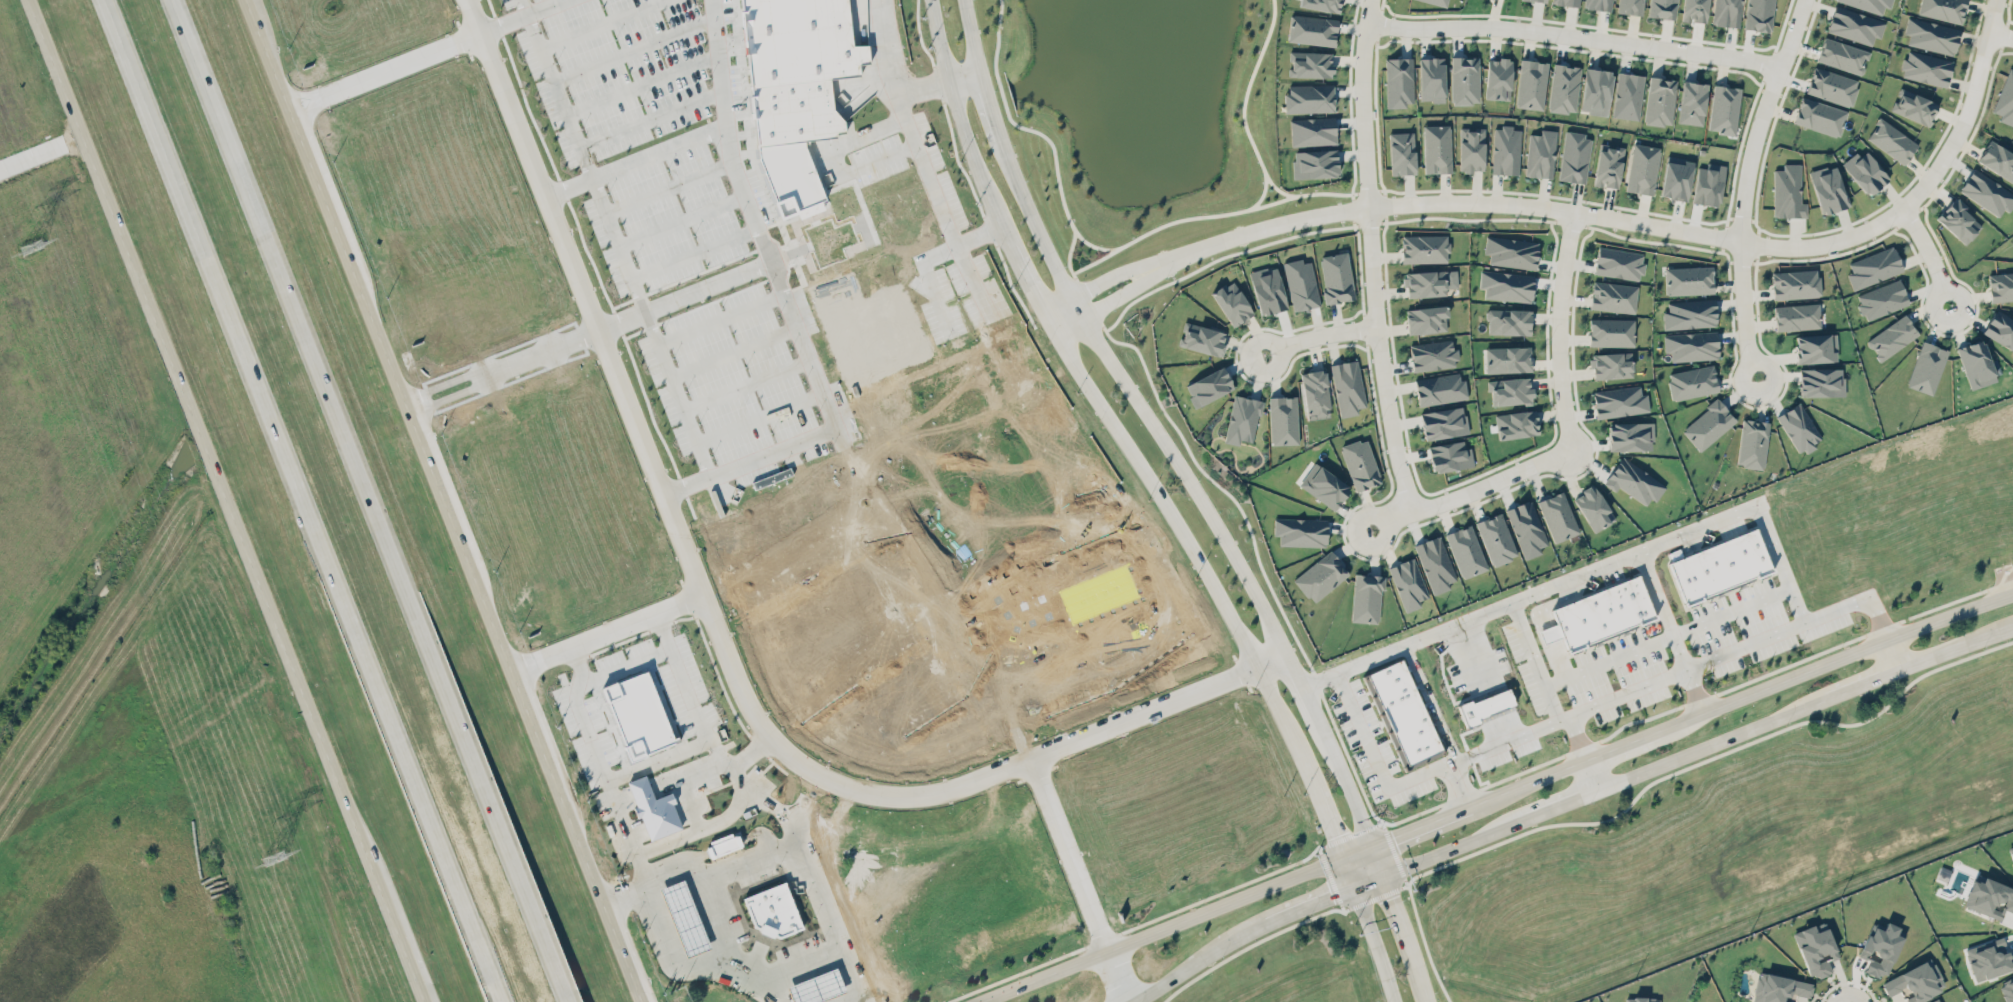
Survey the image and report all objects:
building: (1540, 0)
building: (1438, 2)
building: (1567, 2)
building: (1322, 4)
building: (1598, 4)
building: (1869, 4)
road: (545, 6)
building: (1630, 6)
building: (1662, 8)
building: (1943, 9)
building: (1695, 10)
building: (1727, 12)
building: (1759, 15)
road: (511, 20)
road: (602, 24)
building: (1855, 25)
building: (1312, 29)
road: (2000, 33)
road: (1572, 34)
building: (1931, 35)
road: (634, 49)
building: (1842, 55)
building: (1310, 64)
building: (797, 66)
building: (1926, 68)
road: (386, 75)
road: (962, 78)
building: (1499, 78)
building: (1431, 79)
building: (1465, 80)
building: (1399, 81)
building: (1532, 84)
road: (642, 86)
building: (1832, 86)
building: (1564, 88)
road: (922, 90)
building: (1596, 91)
building: (1628, 95)
building: (1309, 98)
building: (1660, 100)
building: (2006, 100)
building: (1692, 103)
building: (1914, 106)
building: (1724, 109)
building: (1820, 116)
road: (649, 119)
building: (1312, 131)
building: (1892, 140)
road: (916, 148)
building: (1437, 148)
building: (1471, 149)
road: (1003, 150)
building: (1506, 150)
road: (656, 152)
building: (1401, 153)
building: (1541, 154)
road: (41, 155)
road: (976, 156)
building: (1575, 157)
building: (1997, 160)
building: (1314, 163)
building: (1608, 166)
building: (1642, 168)
building: (1865, 172)
building: (1676, 178)
building: (1708, 184)
road: (569, 187)
road: (669, 187)
road: (1744, 187)
building: (1828, 188)
building: (1788, 192)
building: (1987, 192)
road: (682, 220)
building: (1958, 220)
road: (1639, 222)
road: (768, 244)
power tower: (30, 247)
building: (1424, 248)
building: (1511, 251)
road: (1929, 253)
road: (1370, 257)
road: (671, 263)
building: (1618, 263)
building: (1873, 267)
road: (759, 268)
building: (1336, 277)
building: (1688, 280)
road: (1092, 281)
building: (1425, 283)
building: (1795, 283)
building: (1301, 284)
building: (1506, 285)
building: (2000, 286)
building: (1268, 290)
building: (1613, 297)
building: (1882, 299)
building: (1232, 302)
road: (1104, 305)
building: (1690, 313)
building: (1796, 316)
building: (1426, 319)
road: (721, 320)
road: (1048, 320)
building: (1508, 321)
road: (1559, 327)
building: (2000, 328)
building: (1611, 332)
road: (1318, 334)
building: (1892, 337)
building: (1202, 338)
building: (1691, 345)
building: (1816, 348)
road: (733, 350)
building: (1433, 355)
building: (1507, 359)
building: (1976, 364)
building: (1611, 365)
building: (1926, 367)
building: (1692, 382)
building: (1821, 382)
road: (746, 384)
building: (1209, 386)
building: (1347, 387)
building: (1440, 388)
building: (1510, 391)
building: (1315, 392)
road: (676, 394)
building: (1619, 401)
road: (759, 418)
building: (1243, 420)
building: (1283, 420)
building: (1444, 422)
building: (1516, 424)
building: (1708, 424)
building: (1799, 428)
building: (1630, 436)
building: (1752, 443)
building: (1450, 456)
building: (1360, 464)
road: (212, 468)
building: (1634, 481)
building: (1325, 487)
road: (1471, 490)
road: (445, 500)
road: (303, 501)
road: (368, 501)
building: (1593, 508)
building: (1558, 516)
building: (1527, 528)
building: (1300, 531)
building: (1496, 538)
building: (1466, 551)
road: (1629, 553)
road: (1195, 555)
building: (1755, 557)
building: (1739, 562)
building: (1435, 563)
building: (1725, 567)
building: (1320, 576)
building: (1699, 578)
building: (1408, 583)
building: (1684, 585)
building: (1366, 598)
building: (1637, 604)
building: (1620, 609)
road: (1657, 611)
building: (1607, 614)
building: (1596, 620)
road: (719, 629)
road: (2009, 630)
road: (607, 632)
road: (1275, 633)
building: (1563, 634)
road: (1660, 636)
road: (1403, 645)
road: (1469, 649)
road: (1952, 650)
road: (1719, 655)
road: (1845, 655)
road: (1893, 655)
road: (618, 665)
road: (1857, 687)
road: (1687, 692)
building: (1485, 705)
building: (1402, 713)
road: (1439, 724)
road: (1572, 739)
road: (1629, 740)
road: (1494, 745)
road: (1706, 747)
road: (1712, 758)
road: (1376, 760)
road: (648, 762)
road: (1589, 775)
road: (1532, 779)
road: (1554, 807)
building: (655, 810)
road: (809, 810)
road: (1327, 822)
road: (1413, 827)
traffic signals: (1397, 834)
traffic signals: (1334, 836)
road: (1447, 849)
power tower: (271, 857)
road: (1348, 870)
road: (1397, 877)
road: (1368, 879)
road: (1079, 880)
road: (668, 882)
traffic signals: (1391, 894)
road: (705, 895)
traffic signals: (1326, 896)
building: (1989, 897)
road: (1302, 905)
building: (776, 912)
building: (687, 919)
road: (830, 926)
road: (1160, 928)
road: (663, 939)
road: (1427, 942)
road: (1375, 943)
building: (1881, 948)
building: (1815, 949)
building: (1988, 958)
road: (789, 961)
road: (817, 964)
road: (1192, 964)
road: (411, 969)
road: (790, 974)
building: (1916, 981)
road: (826, 987)
building: (820, 988)
building: (1779, 988)
building: (2007, 988)
road: (797, 994)
building: (1645, 999)
road: (832, 1000)
road: (859, 1000)
building: (1935, 1000)

